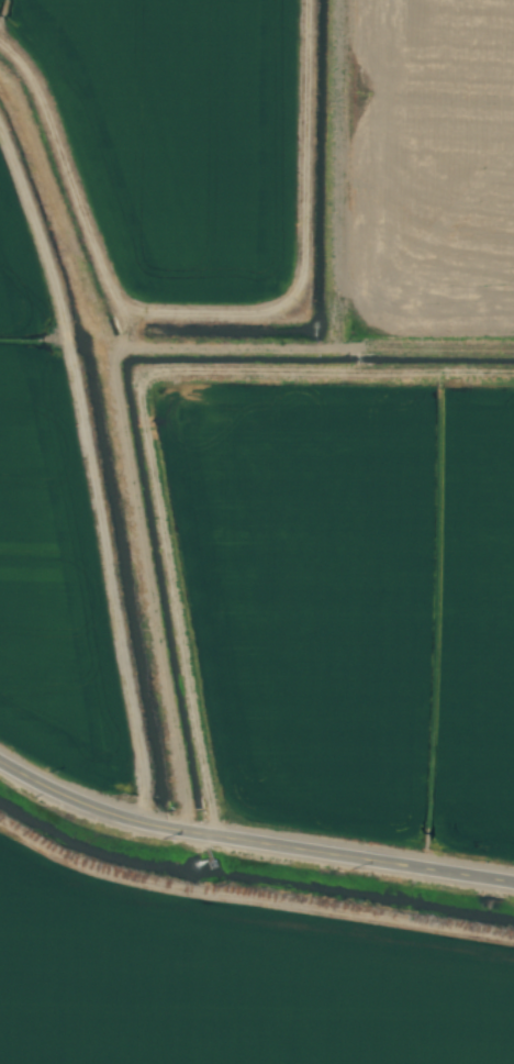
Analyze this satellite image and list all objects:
road: (250, 842)

